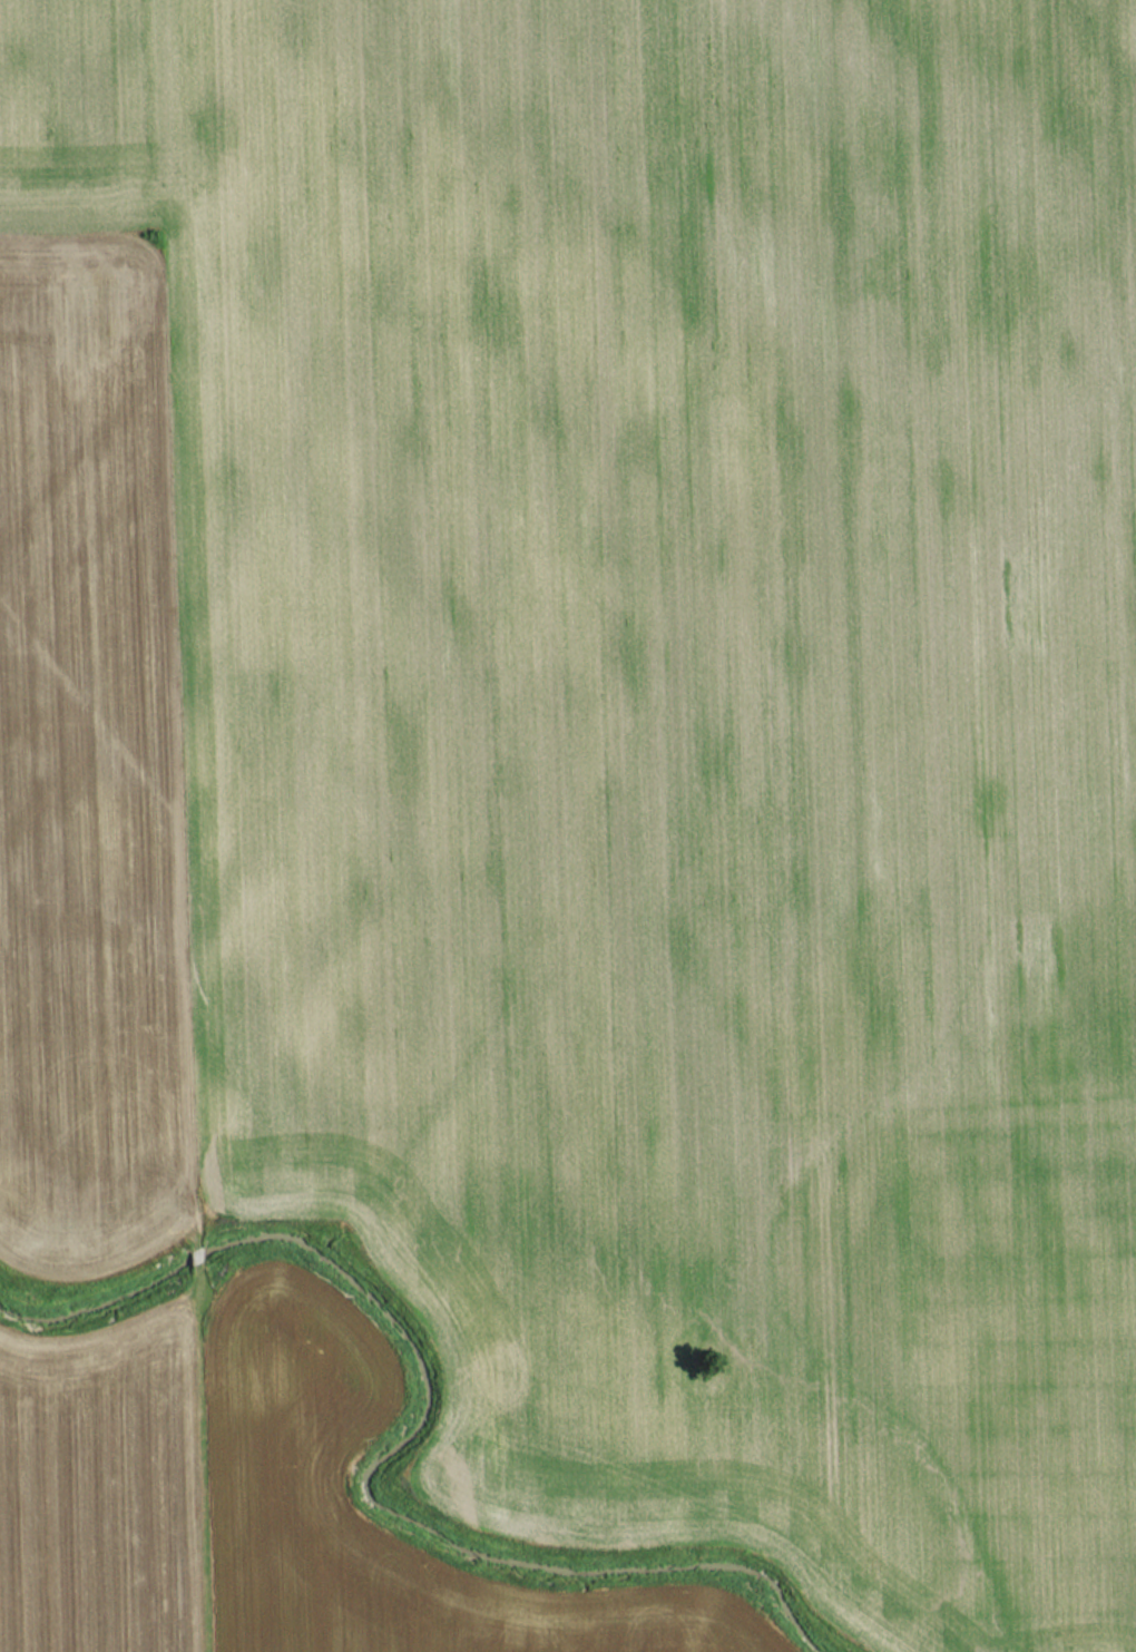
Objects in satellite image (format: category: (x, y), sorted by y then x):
crop: (674, 737)
crop: (94, 744)
crop: (105, 1485)
crop: (273, 1485)

